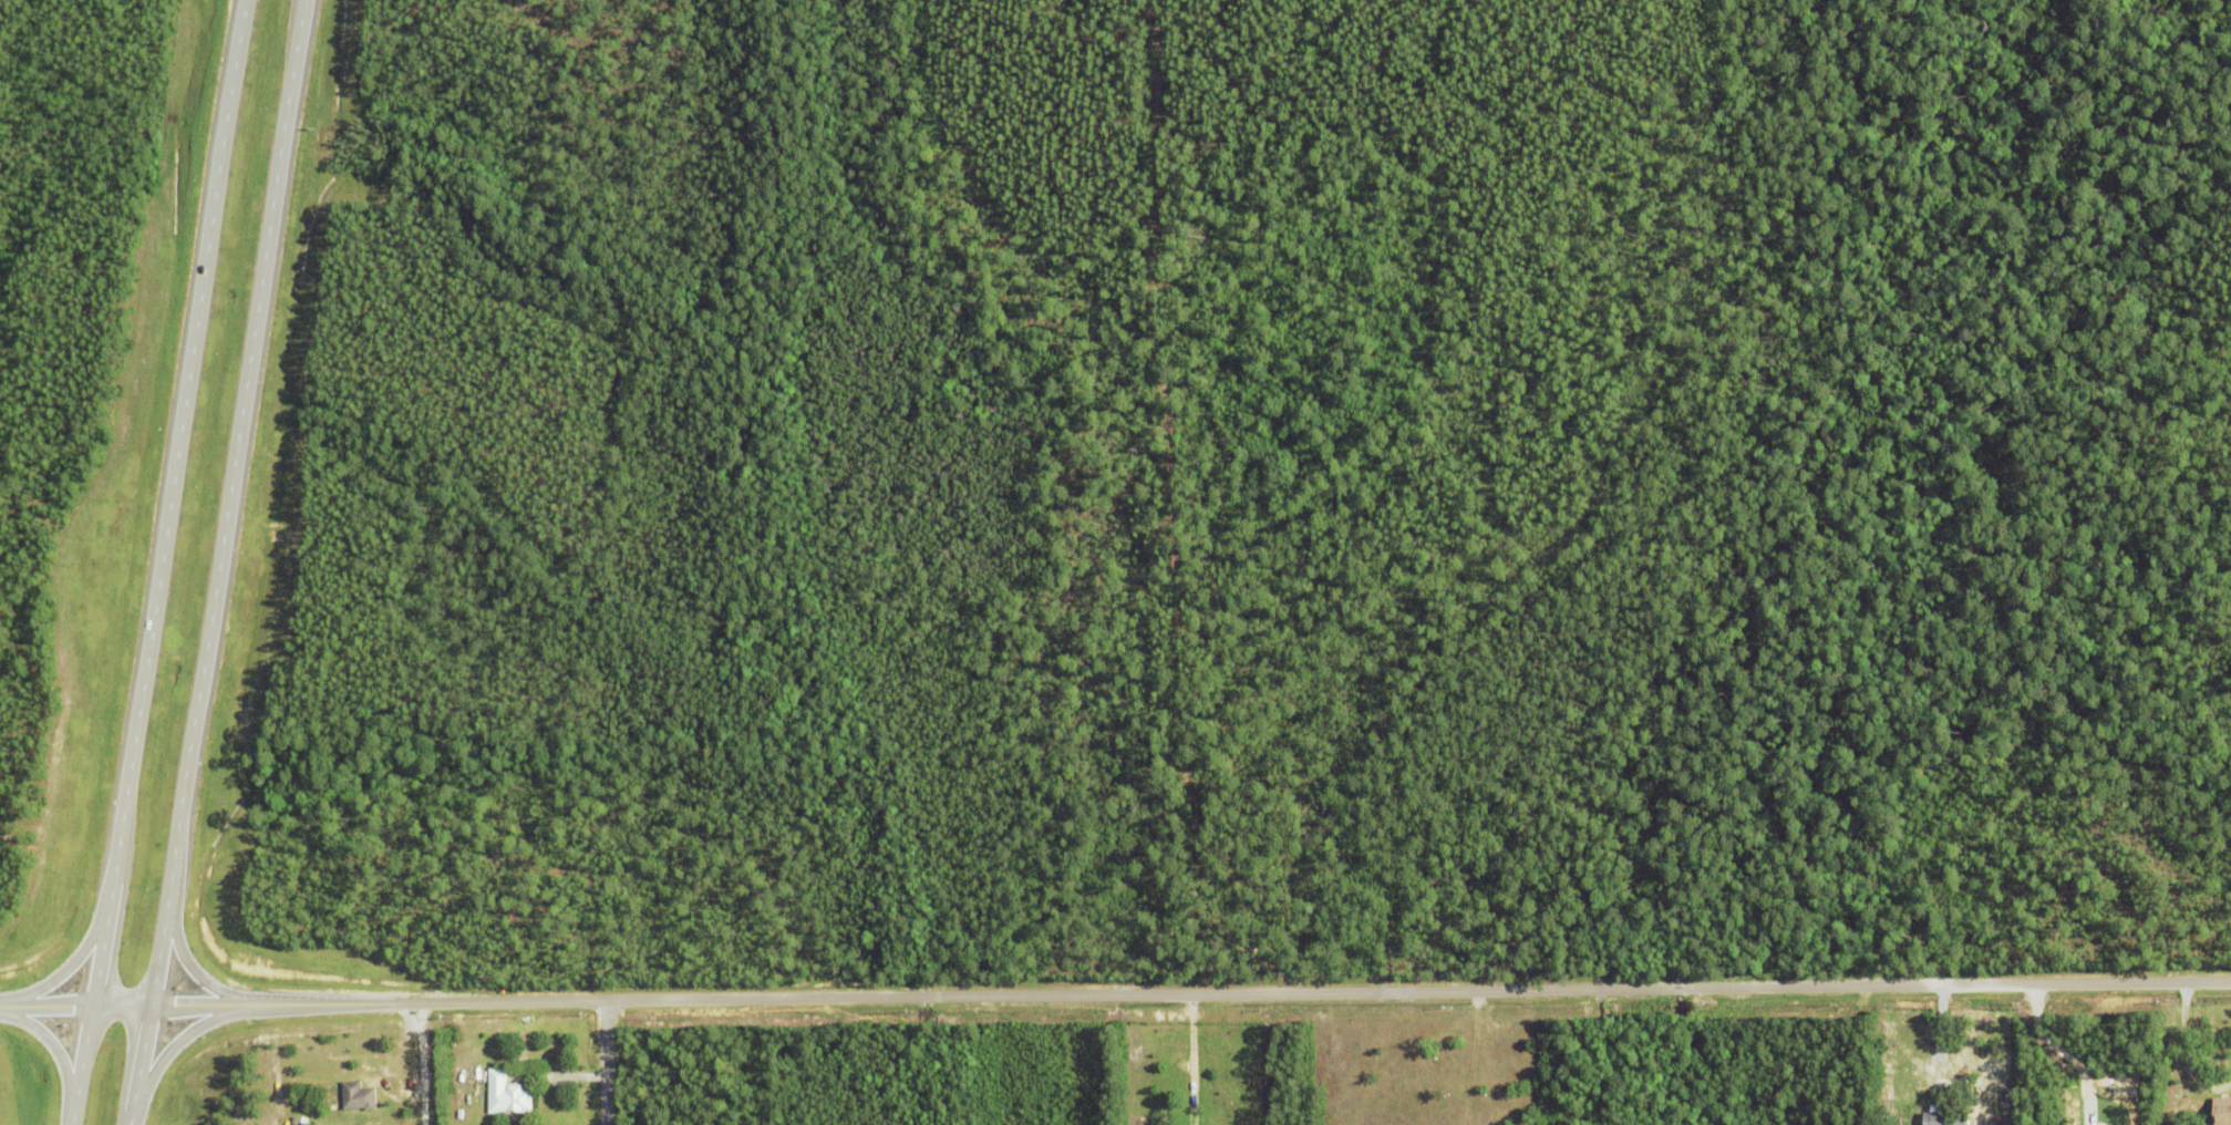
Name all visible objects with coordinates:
road: (1165, 516)
road: (159, 561)
road: (223, 562)
road: (1115, 994)
road: (2183, 1053)
road: (2053, 1054)
road: (413, 1063)
road: (599, 1063)
building: (507, 1097)
building: (358, 1098)
building: (2222, 1112)
building: (1943, 1118)

